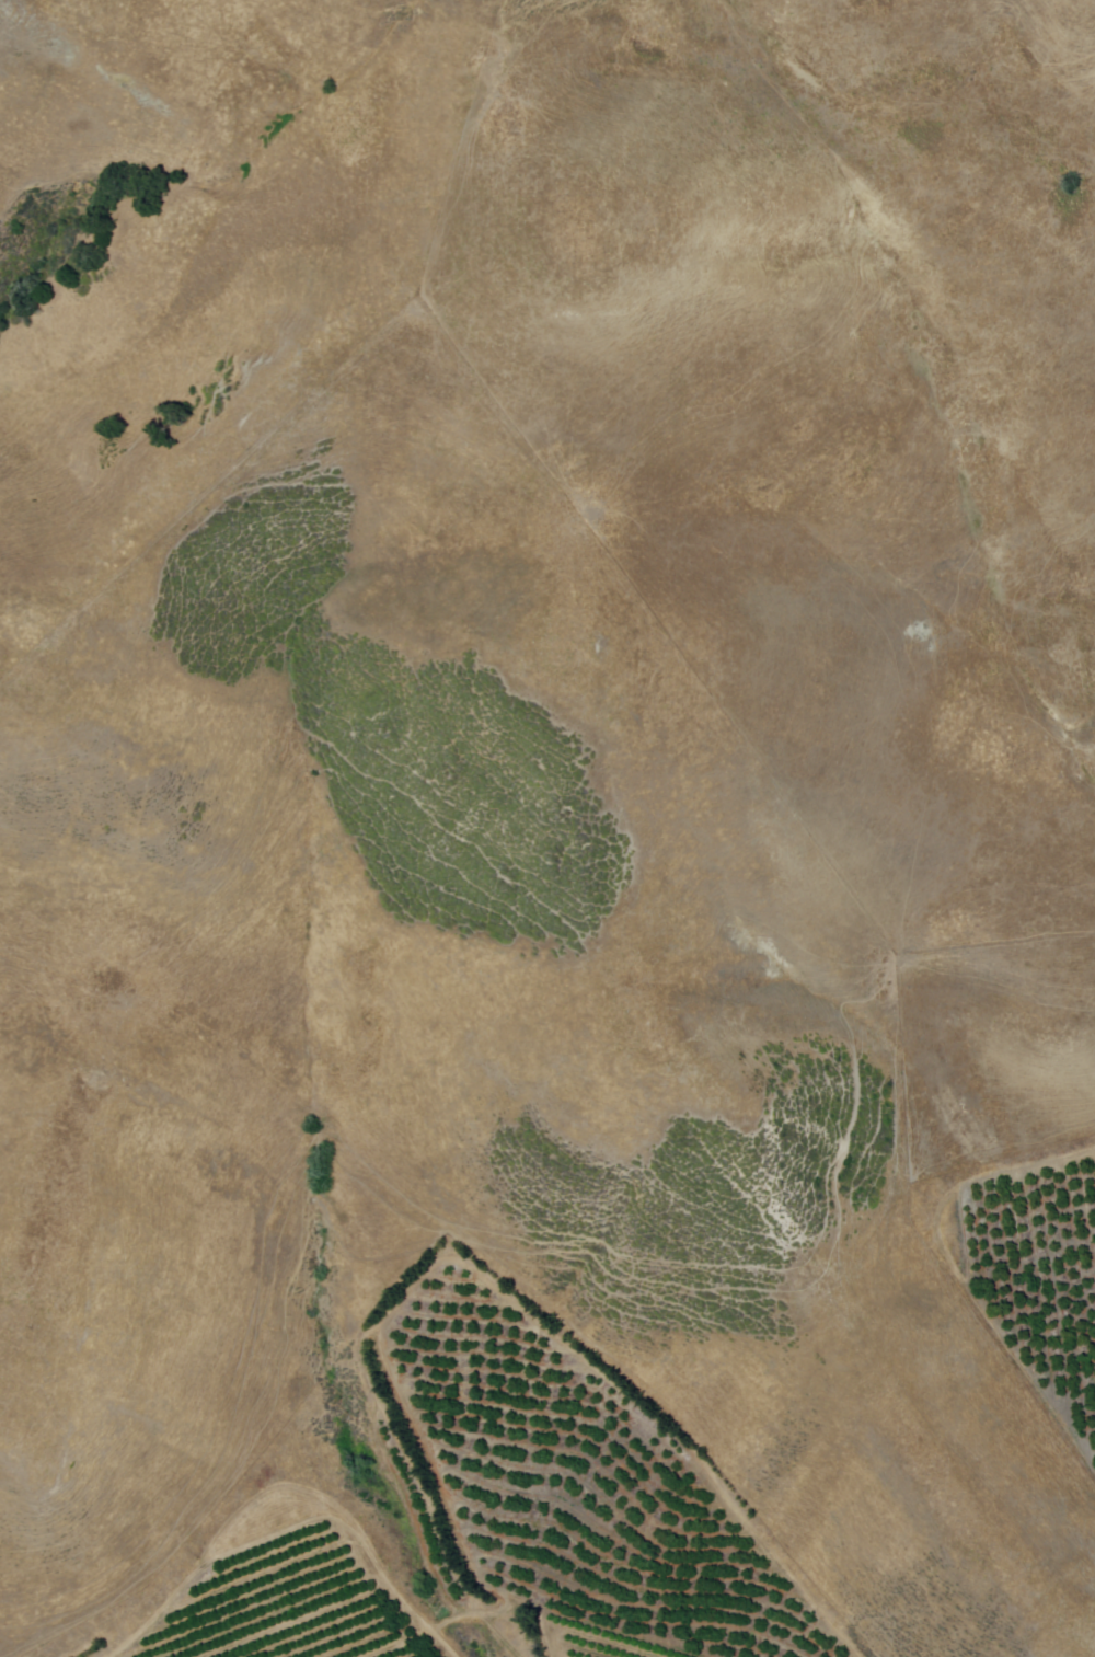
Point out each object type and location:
crop: (439, 1494)

